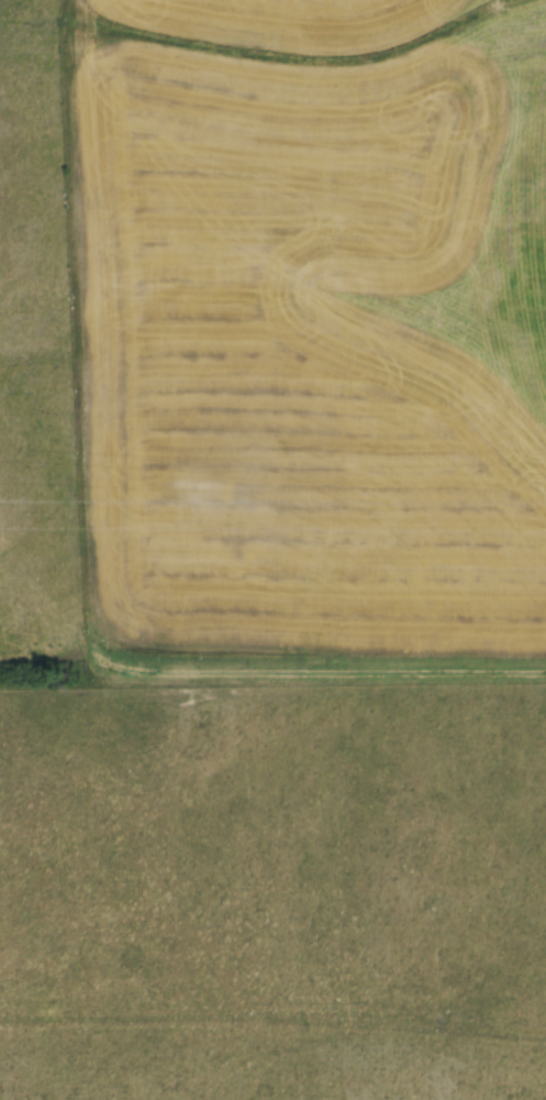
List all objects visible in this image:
road: (272, 682)

